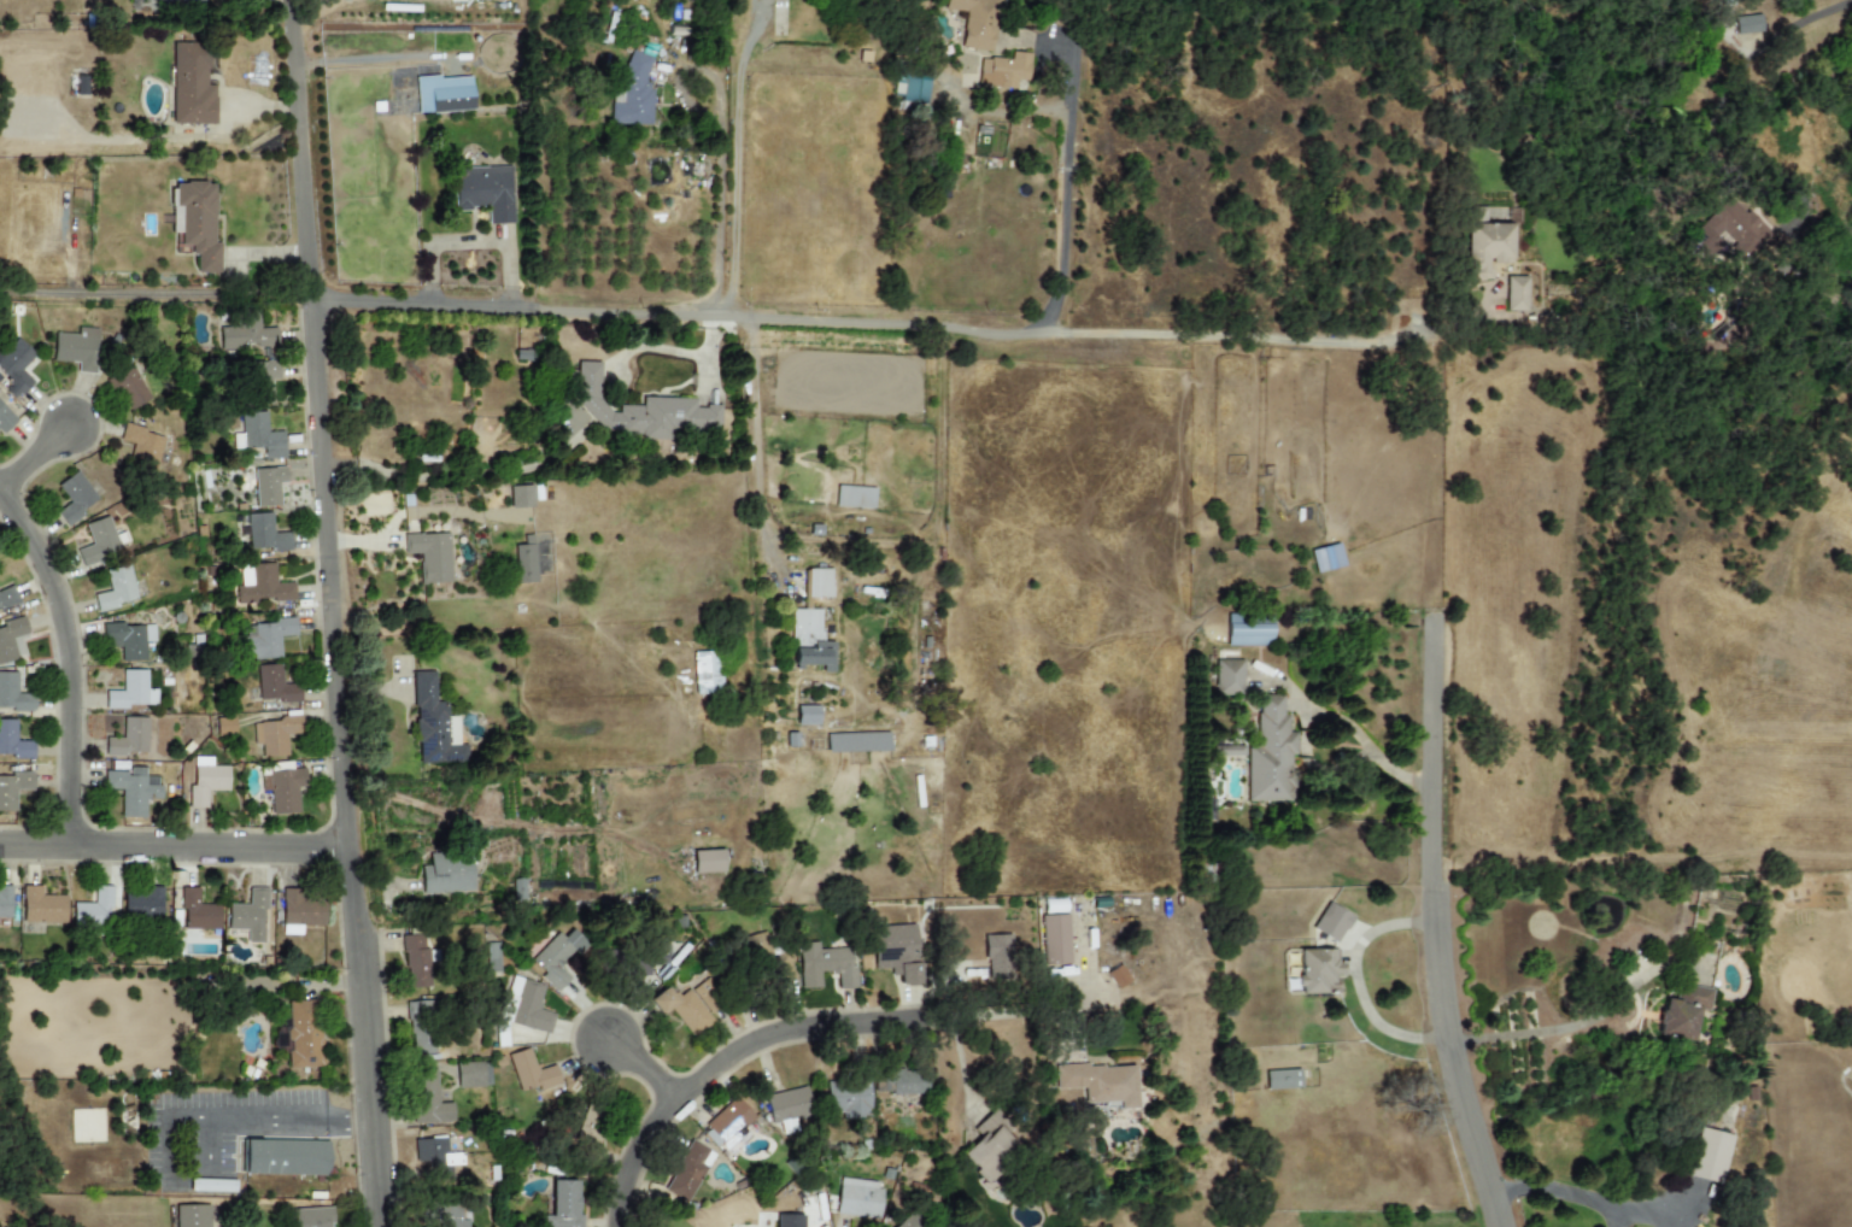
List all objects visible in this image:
building: (189, 0)
building: (974, 22)
building: (1747, 24)
road: (1074, 28)
road: (1759, 48)
road: (370, 58)
building: (1003, 71)
building: (195, 80)
building: (909, 89)
building: (633, 93)
building: (443, 94)
road: (720, 140)
road: (734, 165)
road: (1056, 188)
building: (483, 192)
building: (199, 222)
building: (1729, 229)
building: (1484, 249)
road: (152, 293)
building: (1516, 293)
road: (868, 318)
building: (247, 334)
building: (75, 350)
building: (16, 365)
building: (260, 374)
building: (129, 384)
building: (640, 410)
building: (5, 418)
building: (260, 435)
building: (140, 442)
road: (755, 448)
road: (35, 453)
road: (457, 475)
building: (268, 485)
building: (520, 497)
building: (854, 497)
building: (72, 499)
building: (269, 532)
building: (104, 542)
building: (432, 554)
building: (1326, 557)
building: (524, 563)
building: (817, 582)
building: (262, 587)
building: (115, 589)
building: (7, 599)
road: (327, 613)
building: (12, 640)
building: (128, 640)
building: (266, 640)
building: (808, 641)
road: (66, 665)
building: (707, 673)
building: (1231, 676)
building: (274, 685)
building: (130, 691)
building: (13, 694)
building: (805, 715)
building: (433, 726)
building: (274, 735)
building: (162, 736)
building: (128, 738)
building: (12, 741)
building: (856, 742)
road: (1369, 750)
building: (1270, 755)
building: (206, 781)
building: (12, 788)
building: (131, 789)
building: (282, 789)
road: (171, 846)
building: (707, 861)
building: (446, 875)
building: (5, 904)
building: (142, 904)
building: (1054, 905)
building: (41, 906)
building: (92, 911)
building: (197, 911)
building: (299, 911)
building: (248, 914)
road: (1432, 926)
building: (1054, 940)
building: (896, 951)
building: (997, 956)
building: (556, 957)
building: (415, 961)
building: (824, 965)
building: (1117, 976)
building: (1331, 980)
road: (1356, 981)
building: (684, 1008)
building: (531, 1009)
building: (1683, 1012)
road: (1553, 1028)
building: (301, 1035)
road: (728, 1049)
road: (645, 1059)
building: (531, 1072)
building: (471, 1074)
building: (1282, 1079)
building: (898, 1081)
building: (1100, 1082)
building: (428, 1098)
building: (848, 1099)
building: (786, 1108)
building: (728, 1126)
road: (205, 1155)
building: (435, 1156)
building: (1709, 1156)
building: (298, 1157)
building: (688, 1172)
road: (1558, 1188)
building: (856, 1198)
road: (1651, 1205)
building: (191, 1216)
building: (310, 1217)
building: (446, 1217)

